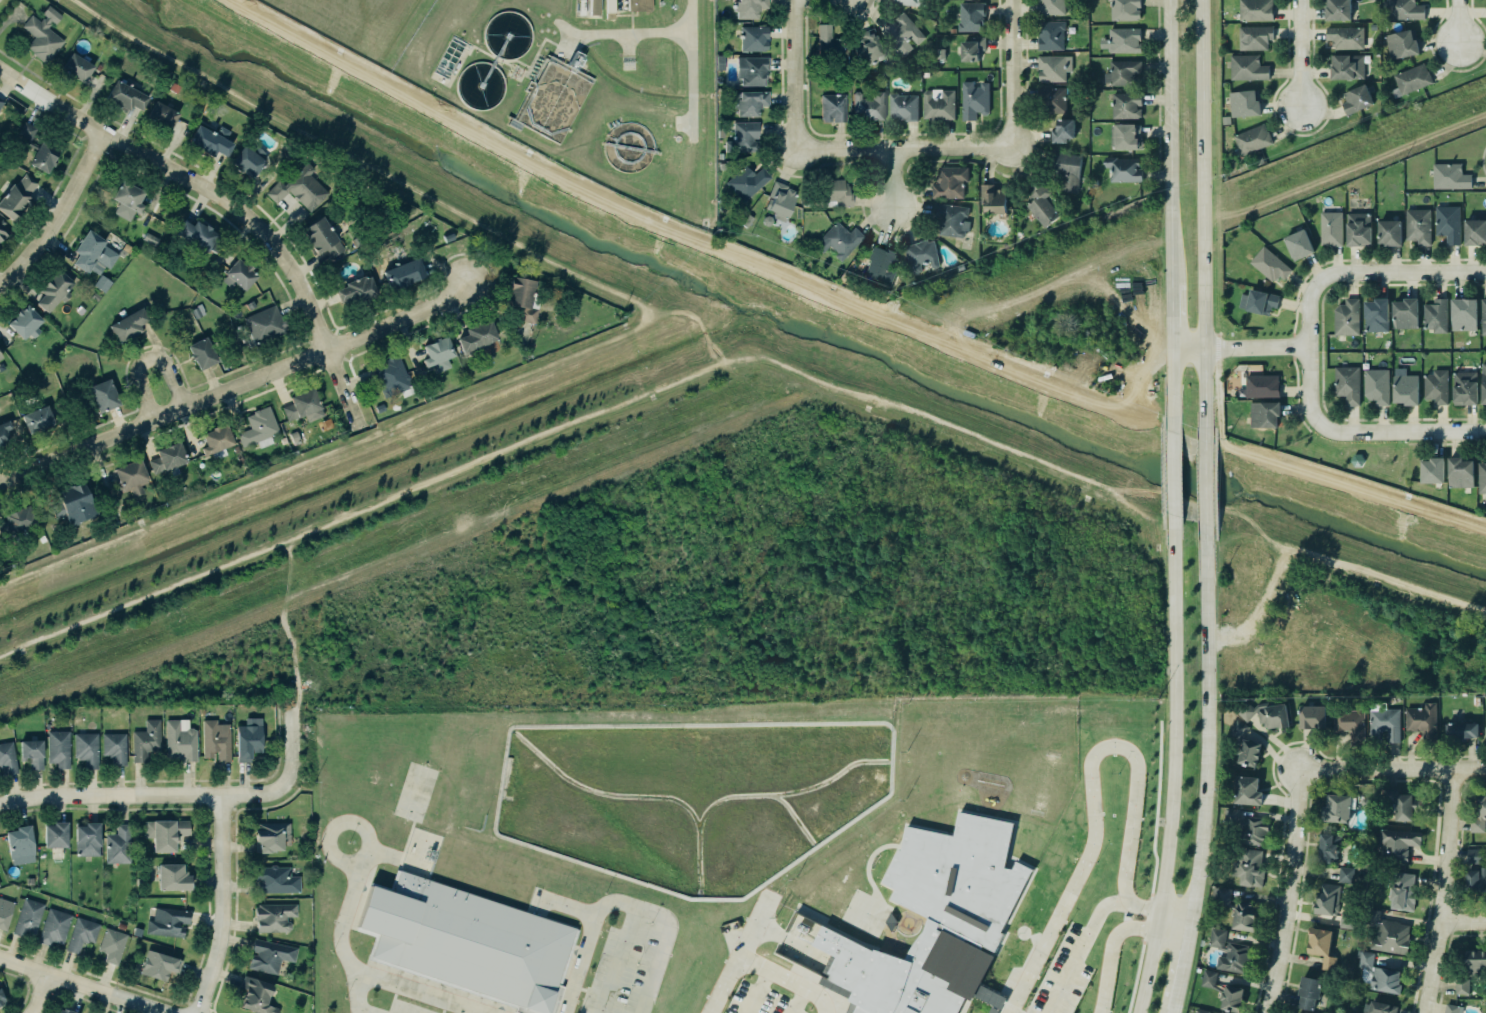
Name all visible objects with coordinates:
building: (911, 2)
building: (639, 5)
building: (594, 7)
building: (1052, 7)
building: (749, 8)
building: (610, 9)
building: (1126, 9)
building: (1256, 10)
building: (1338, 10)
building: (1404, 10)
building: (972, 16)
road: (1457, 21)
building: (953, 31)
building: (903, 32)
building: (43, 34)
building: (1052, 35)
building: (754, 37)
building: (1255, 38)
building: (1346, 38)
building: (1123, 40)
building: (829, 43)
building: (1402, 44)
road: (145, 45)
building: (868, 46)
building: (973, 48)
road: (1298, 52)
building: (941, 53)
building: (450, 57)
building: (575, 60)
road: (691, 60)
building: (721, 61)
building: (78, 66)
building: (1347, 66)
building: (1054, 68)
building: (1248, 68)
building: (752, 69)
road: (1011, 71)
road: (795, 72)
building: (1124, 72)
building: (926, 74)
building: (1413, 78)
building: (173, 87)
building: (126, 95)
building: (1055, 98)
building: (975, 99)
building: (1357, 99)
building: (750, 101)
building: (1, 102)
building: (1245, 104)
building: (869, 105)
building: (939, 105)
building: (1127, 105)
building: (833, 106)
building: (904, 107)
building: (164, 114)
building: (1063, 130)
road: (468, 131)
road: (313, 135)
road: (1169, 135)
building: (743, 136)
building: (1126, 136)
building: (212, 140)
building: (1253, 140)
road: (905, 146)
building: (38, 148)
building: (250, 158)
building: (1067, 168)
building: (1124, 169)
building: (1450, 177)
building: (746, 181)
building: (951, 182)
road: (899, 185)
building: (300, 188)
building: (837, 191)
building: (17, 197)
building: (128, 199)
road: (226, 199)
building: (993, 199)
building: (780, 200)
building: (1041, 202)
road: (63, 217)
building: (952, 218)
road: (1204, 221)
building: (1448, 223)
building: (1418, 226)
building: (3, 228)
building: (1331, 229)
building: (1359, 229)
building: (1475, 232)
building: (1390, 233)
building: (202, 235)
building: (323, 236)
building: (150, 239)
building: (839, 239)
building: (1299, 245)
road: (527, 249)
building: (93, 253)
building: (921, 254)
building: (1270, 264)
building: (881, 265)
road: (1412, 270)
building: (242, 273)
building: (405, 274)
building: (101, 282)
road: (713, 286)
building: (55, 289)
building: (357, 289)
building: (94, 296)
building: (523, 296)
building: (1262, 302)
building: (250, 304)
road: (1171, 309)
building: (196, 312)
road: (673, 313)
building: (1405, 313)
road: (877, 314)
building: (1436, 315)
building: (1464, 315)
building: (1375, 316)
building: (1483, 316)
building: (1347, 317)
building: (26, 321)
building: (264, 323)
building: (129, 324)
park: (772, 335)
building: (478, 336)
road: (714, 345)
road: (1240, 347)
road: (1309, 348)
building: (203, 352)
building: (439, 353)
building: (0, 356)
building: (0, 357)
road: (148, 361)
building: (391, 374)
road: (810, 383)
building: (1483, 383)
building: (1347, 384)
road: (236, 385)
building: (1263, 385)
building: (1377, 385)
building: (1436, 387)
building: (1465, 388)
road: (1172, 389)
building: (1406, 389)
building: (105, 395)
road: (622, 402)
road: (1106, 404)
building: (304, 405)
road: (443, 405)
building: (379, 408)
building: (1264, 414)
building: (39, 419)
building: (258, 426)
road: (1410, 431)
road: (966, 432)
building: (5, 434)
building: (294, 437)
building: (217, 439)
building: (282, 440)
park: (1355, 456)
building: (168, 458)
building: (1358, 461)
building: (1433, 471)
building: (1461, 472)
road: (1171, 473)
building: (132, 476)
building: (1481, 477)
road: (1206, 483)
road: (1097, 488)
road: (212, 500)
building: (74, 503)
road: (1137, 509)
building: (17, 520)
road: (324, 522)
building: (41, 538)
road: (94, 547)
road: (1349, 564)
road: (1207, 619)
road: (69, 626)
building: (1267, 715)
building: (1312, 718)
building: (1421, 720)
building: (1350, 724)
building: (1385, 724)
building: (1485, 726)
building: (1238, 730)
building: (1462, 732)
building: (249, 738)
building: (145, 740)
building: (216, 740)
building: (179, 742)
building: (114, 747)
building: (58, 748)
building: (86, 749)
building: (1247, 753)
building: (32, 754)
building: (7, 758)
road: (1172, 766)
road: (1391, 771)
road: (1090, 778)
building: (1246, 791)
road: (183, 795)
building: (1400, 804)
building: (1337, 809)
building: (1479, 814)
road: (1202, 820)
building: (1248, 827)
building: (165, 832)
road: (328, 833)
building: (57, 834)
building: (273, 836)
building: (87, 838)
building: (21, 844)
building: (118, 845)
building: (1398, 845)
building: (1329, 848)
building: (1474, 856)
building: (1251, 868)
building: (1346, 874)
building: (174, 876)
building: (277, 879)
building: (29, 881)
building: (1475, 881)
building: (1403, 892)
road: (1442, 892)
road: (1291, 893)
building: (1221, 896)
building: (1327, 899)
road: (558, 903)
road: (626, 904)
road: (221, 905)
building: (5, 912)
building: (273, 916)
building: (1245, 916)
building: (27, 917)
building: (938, 920)
building: (168, 921)
building: (1346, 921)
road: (1174, 923)
road: (1462, 925)
building: (54, 927)
building: (136, 931)
building: (81, 934)
building: (1389, 935)
road: (338, 938)
building: (469, 943)
building: (112, 944)
road: (1081, 944)
building: (1320, 946)
road: (1110, 951)
building: (1229, 952)
building: (269, 955)
road: (735, 957)
building: (1476, 959)
road: (617, 960)
building: (159, 965)
road: (1181, 968)
building: (1377, 973)
parking lot: (1062, 977)
road: (784, 979)
building: (1462, 985)
road: (79, 987)
building: (1224, 990)
building: (1308, 990)
road: (416, 992)
road: (39, 995)
building: (256, 995)
building: (2, 997)
building: (1382, 1008)
building: (1451, 1008)
building: (67, 1010)
building: (1201, 1011)
road: (1171, 1012)
building: (1365, 1012)

